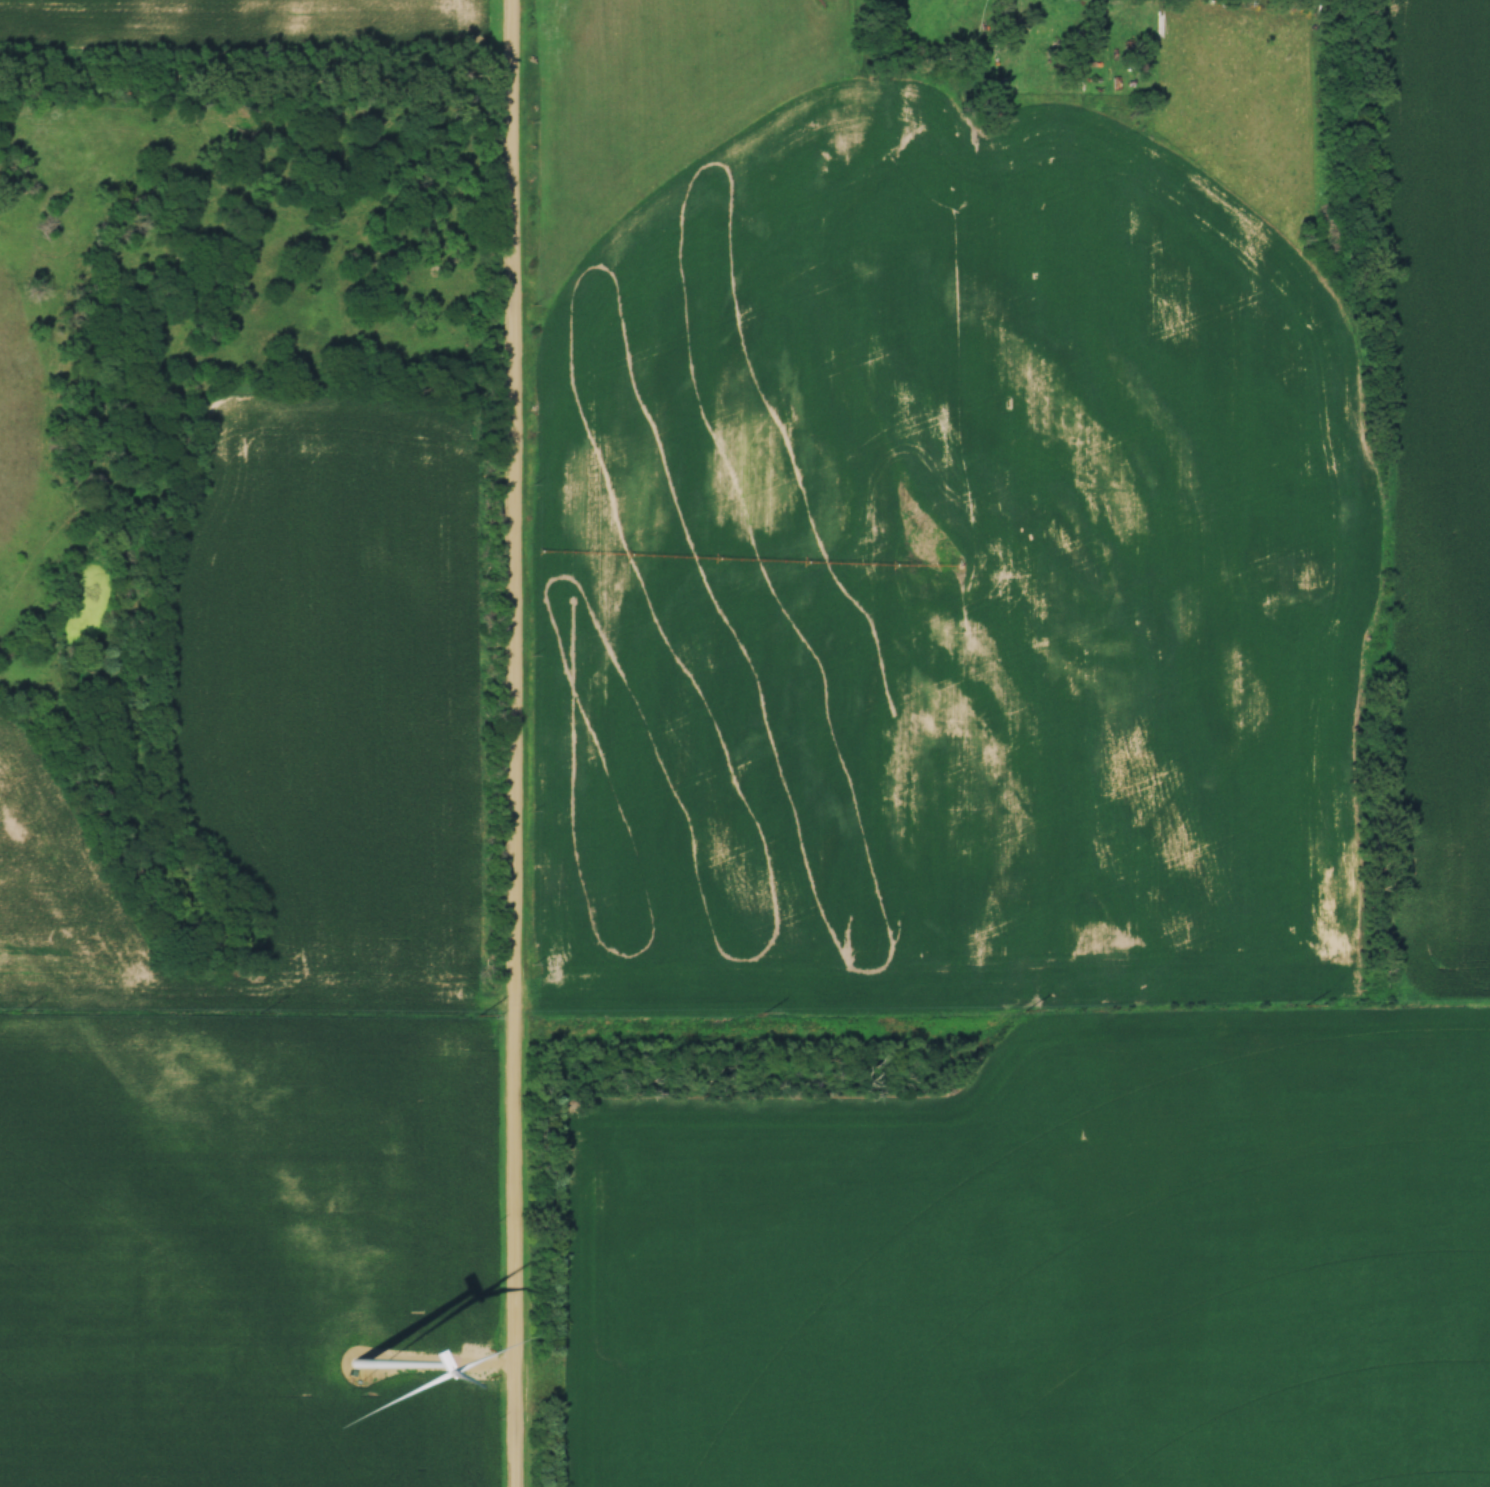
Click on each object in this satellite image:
road: (515, 743)
wind turbine: (355, 1362)

